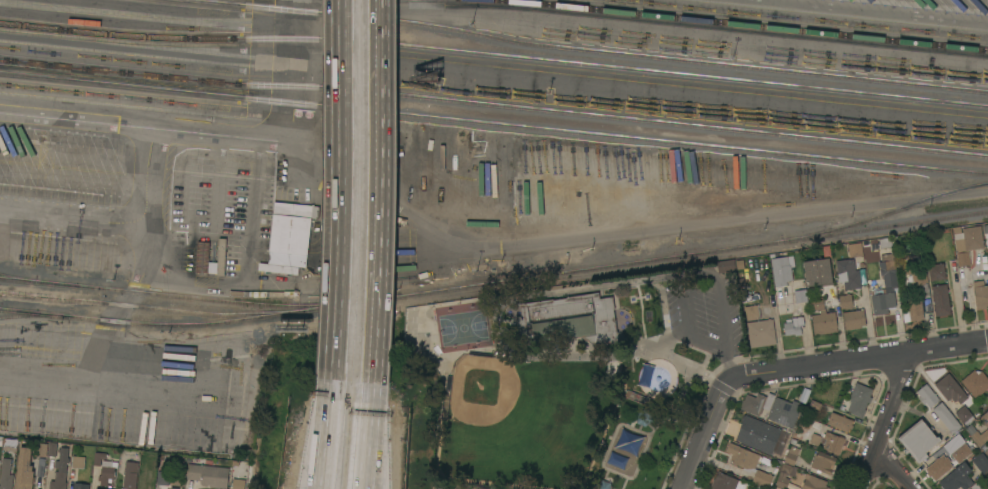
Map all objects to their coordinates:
railway: (743, 24)
railway: (586, 49)
railway: (494, 54)
railway: (494, 104)
railway: (493, 123)
road: (339, 172)
road: (373, 173)
railway: (886, 227)
building: (290, 233)
building: (967, 242)
building: (881, 243)
building: (854, 249)
building: (202, 256)
building: (221, 257)
building: (726, 265)
building: (987, 267)
building: (781, 270)
building: (937, 271)
building: (818, 272)
road: (687, 274)
building: (848, 274)
building: (918, 278)
railway: (20, 279)
railway: (497, 282)
building: (885, 286)
building: (800, 295)
building: (981, 295)
building: (941, 299)
building: (845, 301)
building: (917, 306)
railway: (154, 308)
building: (752, 312)
parking lot: (708, 313)
railway: (39, 315)
building: (822, 317)
building: (854, 319)
building: (567, 321)
railway: (181, 325)
building: (793, 325)
park: (462, 327)
building: (761, 333)
road: (604, 353)
road: (859, 361)
road: (679, 362)
road: (332, 367)
road: (731, 367)
park: (579, 376)
building: (976, 382)
building: (950, 389)
building: (987, 392)
building: (927, 395)
building: (859, 399)
building: (753, 403)
building: (784, 411)
park: (499, 412)
building: (964, 415)
building: (643, 417)
building: (946, 417)
road: (367, 418)
building: (985, 418)
building: (840, 422)
road: (885, 423)
road: (704, 433)
building: (759, 434)
building: (977, 435)
road: (321, 440)
road: (327, 440)
building: (918, 440)
building: (0, 441)
building: (829, 441)
building: (9, 444)
building: (985, 447)
building: (42, 449)
building: (961, 452)
building: (791, 454)
building: (98, 456)
building: (742, 456)
building: (0, 461)
building: (78, 461)
building: (823, 462)
building: (980, 462)
building: (938, 467)
building: (24, 469)
road: (892, 469)
building: (60, 470)
building: (107, 471)
building: (6, 474)
building: (208, 474)
building: (130, 475)
building: (163, 477)
building: (762, 478)
building: (955, 479)
building: (781, 481)
building: (725, 482)
building: (814, 482)
building: (238, 483)
building: (603, 484)
building: (81, 485)
building: (174, 487)
building: (986, 487)
building: (97, 488)
building: (509, 488)

